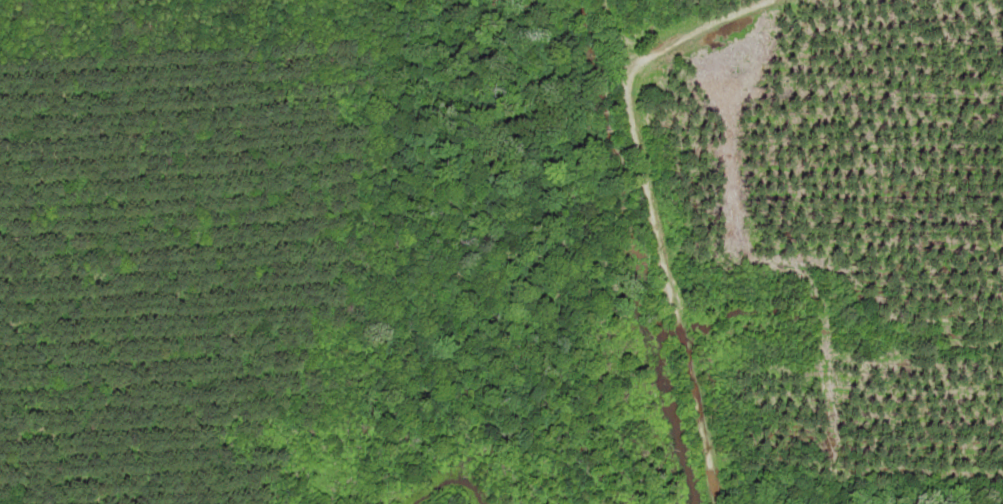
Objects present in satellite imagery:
road: (630, 155)

